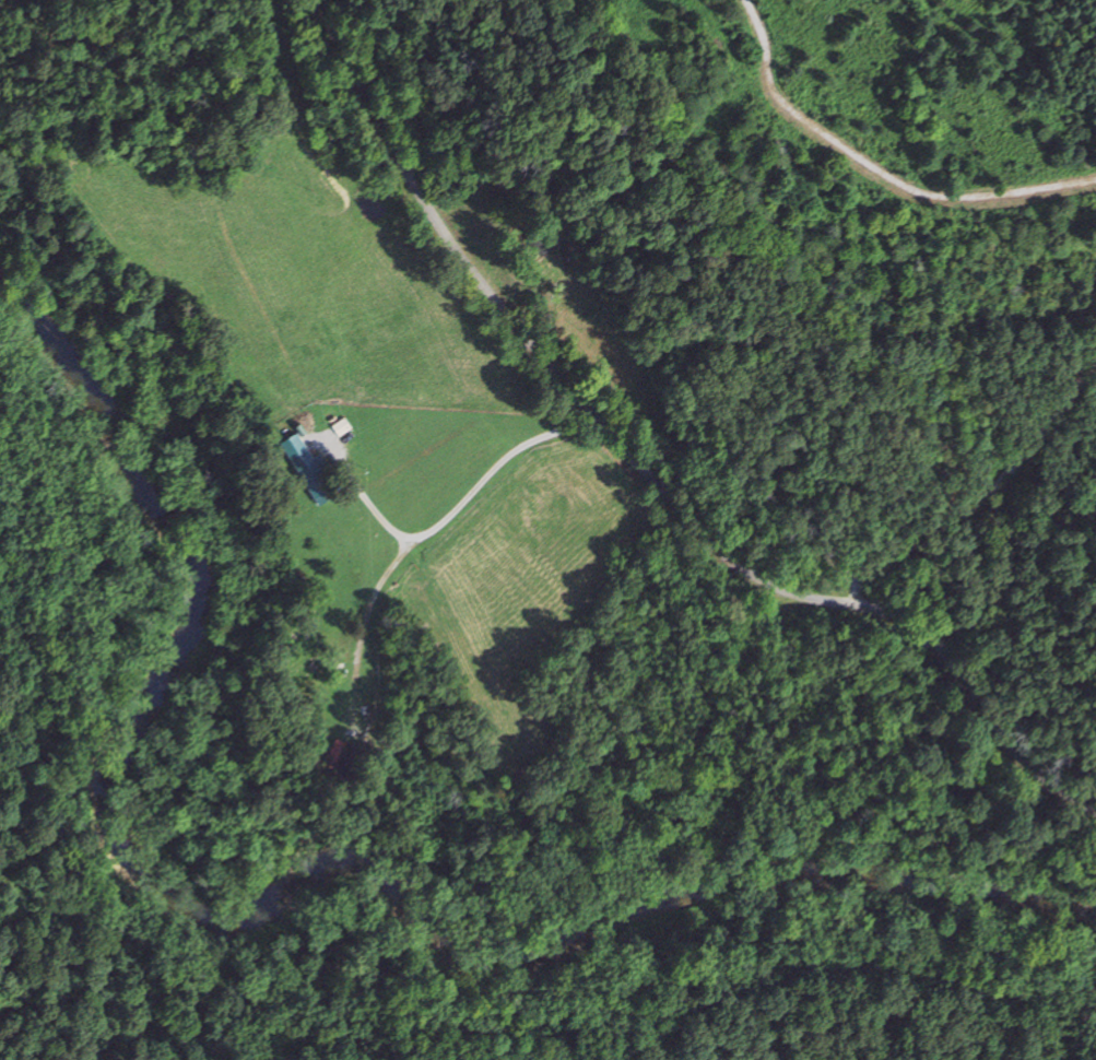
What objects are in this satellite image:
road: (964, 459)
road: (648, 472)
road: (810, 799)

